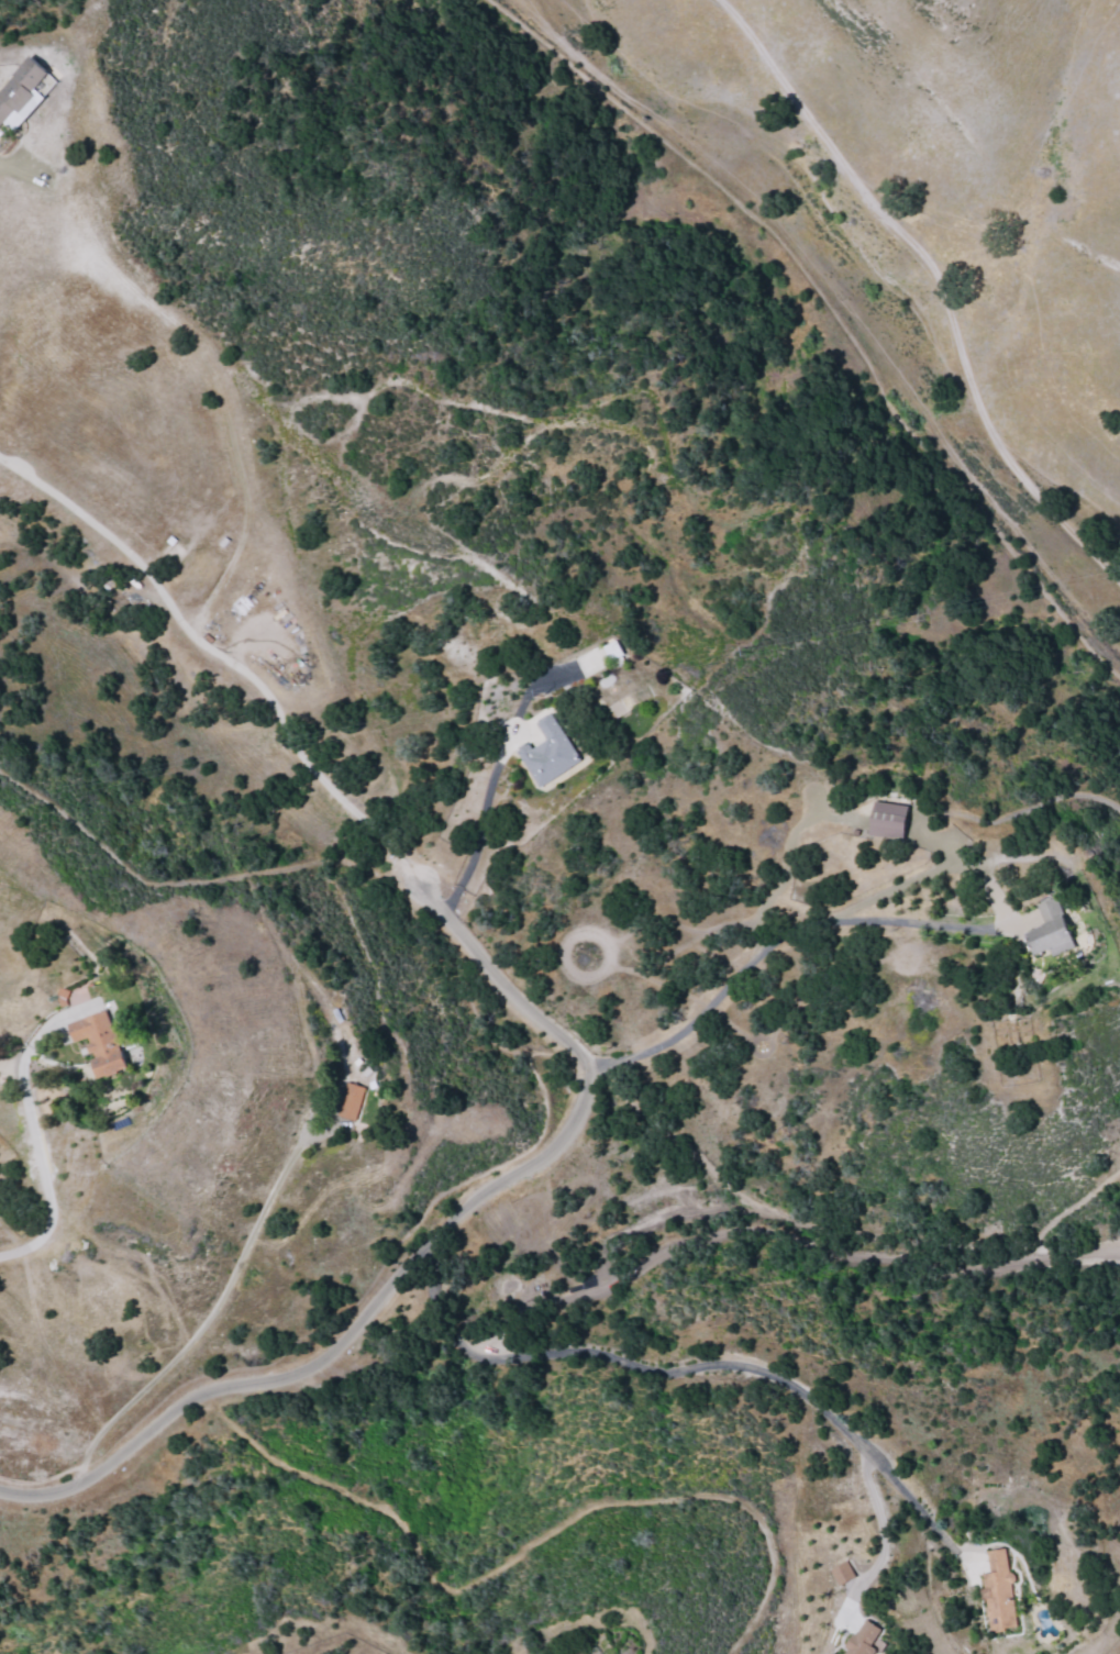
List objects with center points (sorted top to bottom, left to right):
building: (22, 93)
road: (887, 217)
building: (614, 650)
building: (550, 752)
building: (891, 821)
road: (736, 925)
building: (1052, 928)
building: (101, 1042)
building: (350, 1101)
road: (403, 1255)
road: (71, 1509)
building: (842, 1574)
road: (466, 1584)
building: (1000, 1592)
building: (866, 1639)

